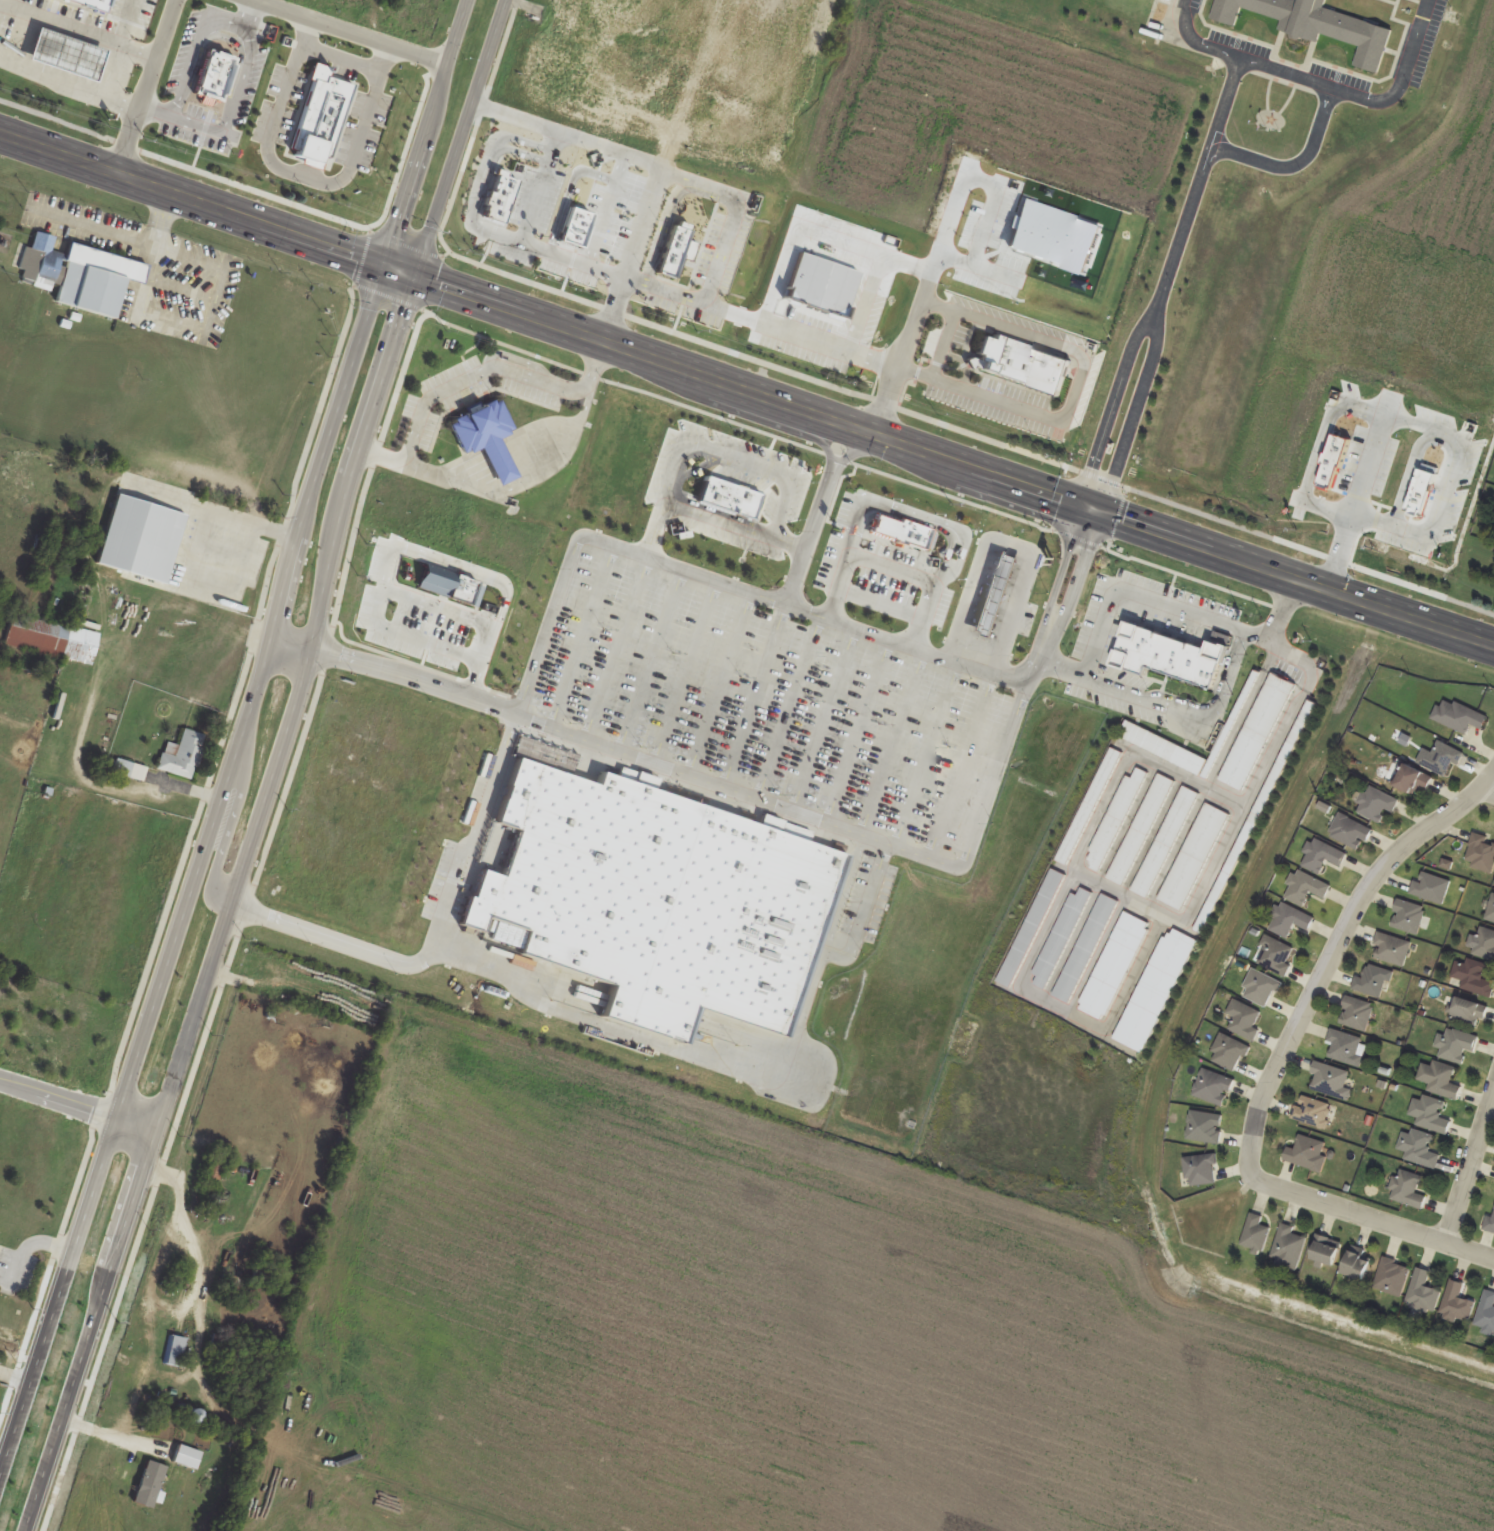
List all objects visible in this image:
road: (245, 11)
building: (1318, 24)
road: (77, 29)
road: (349, 33)
road: (192, 48)
road: (339, 57)
road: (1249, 63)
road: (1414, 82)
road: (145, 84)
road: (67, 86)
road: (231, 102)
road: (1236, 106)
road: (154, 108)
road: (428, 131)
road: (461, 137)
road: (1217, 163)
road: (300, 175)
road: (191, 195)
road: (164, 217)
road: (127, 236)
road: (629, 255)
road: (203, 259)
road: (714, 262)
traffic signals: (384, 263)
road: (981, 263)
traffic signals: (417, 275)
building: (96, 282)
road: (180, 287)
road: (922, 307)
road: (188, 324)
road: (837, 346)
road: (746, 357)
road: (591, 363)
road: (469, 376)
road: (1075, 389)
road: (585, 393)
road: (1372, 410)
building: (484, 436)
road: (938, 452)
road: (556, 460)
building: (1333, 466)
road: (1410, 471)
road: (425, 472)
building: (110, 489)
road: (1108, 490)
building: (1423, 493)
road: (1100, 500)
building: (736, 504)
road: (211, 509)
traffic signals: (1092, 509)
road: (910, 515)
road: (654, 521)
road: (1083, 529)
building: (910, 539)
road: (1009, 546)
road: (194, 548)
road: (795, 572)
road: (1057, 575)
building: (435, 579)
road: (1072, 582)
road: (555, 590)
road: (400, 597)
road: (1158, 600)
building: (52, 639)
road: (292, 642)
road: (1038, 647)
building: (1177, 659)
road: (414, 676)
parking lot: (777, 699)
building: (1459, 716)
building: (1257, 732)
building: (1162, 748)
building: (182, 755)
building: (1441, 758)
road: (280, 759)
building: (130, 769)
road: (697, 778)
building: (1412, 780)
road: (1487, 791)
building: (1376, 804)
building: (1089, 806)
road: (217, 814)
road: (978, 815)
building: (1115, 820)
building: (1140, 830)
road: (223, 832)
building: (1350, 832)
building: (1165, 842)
building: (1481, 854)
building: (1194, 857)
building: (1323, 857)
building: (1431, 887)
building: (1306, 888)
building: (653, 899)
building: (1491, 911)
building: (1408, 917)
building: (1290, 921)
road: (332, 938)
building: (1485, 944)
building: (1393, 949)
road: (1333, 952)
building: (1276, 956)
building: (1473, 978)
building: (1374, 981)
building: (1261, 988)
building: (1468, 1013)
building: (1357, 1014)
building: (1244, 1020)
road: (612, 1026)
building: (1457, 1045)
building: (1347, 1048)
building: (1229, 1053)
building: (1440, 1080)
building: (1331, 1081)
building: (1213, 1088)
road: (57, 1099)
building: (1312, 1112)
building: (1430, 1115)
road: (136, 1126)
building: (1205, 1128)
building: (1420, 1149)
building: (1307, 1154)
road: (1469, 1167)
building: (1201, 1170)
park: (38, 1188)
building: (1408, 1190)
road: (1370, 1218)
building: (1491, 1222)
building: (1255, 1234)
building: (1287, 1248)
building: (1325, 1251)
building: (1356, 1267)
building: (1392, 1277)
building: (1423, 1293)
building: (1457, 1304)
building: (1486, 1312)
building: (177, 1352)
building: (125, 1377)
road: (75, 1384)
road: (17, 1411)
building: (190, 1416)
road: (105, 1433)

